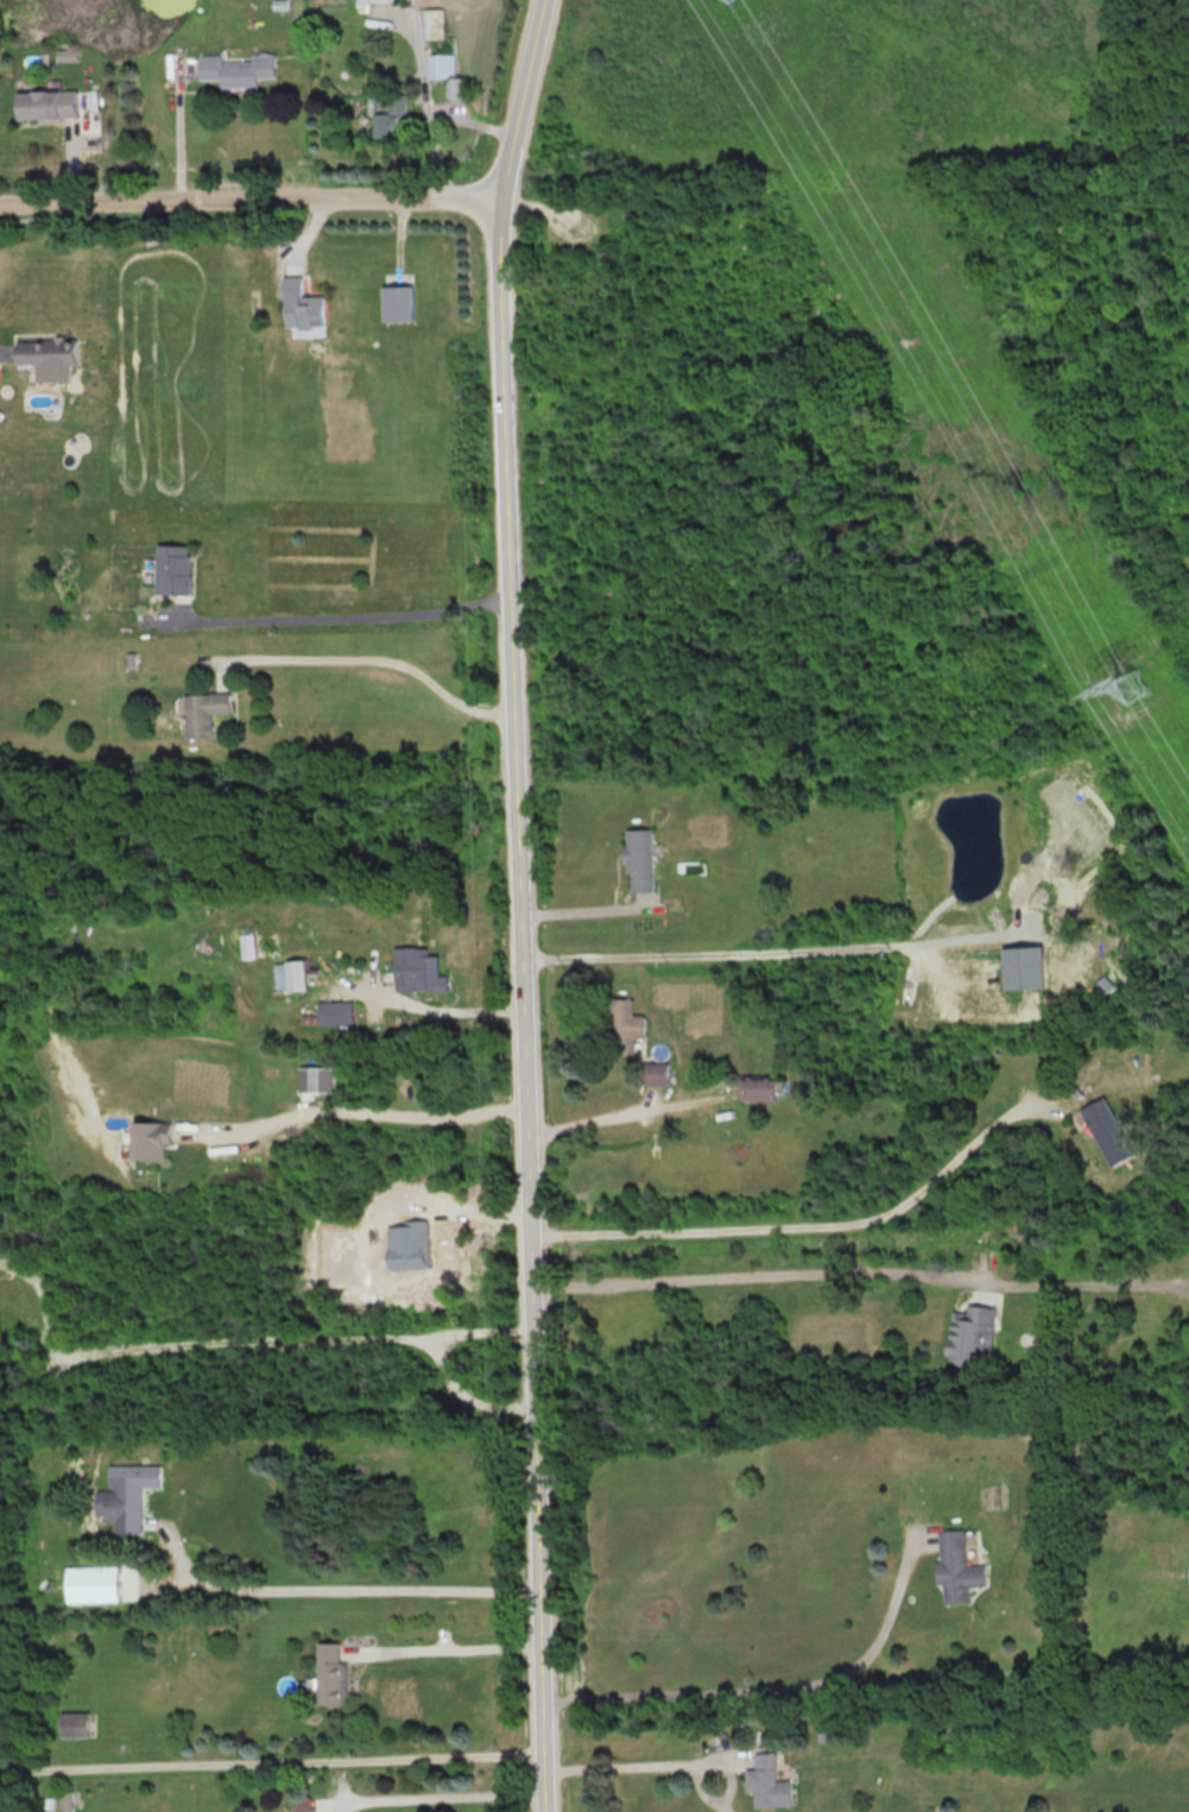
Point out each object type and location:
building: (374, 1)
building: (434, 23)
building: (236, 70)
building: (447, 75)
road: (520, 97)
building: (48, 105)
building: (392, 115)
road: (251, 198)
building: (398, 304)
building: (303, 305)
road: (2, 352)
building: (46, 353)
park: (873, 441)
building: (173, 570)
road: (341, 611)
road: (379, 651)
power tower: (1136, 690)
building: (204, 713)
building: (640, 860)
road: (720, 959)
building: (422, 973)
road: (516, 1004)
road: (435, 1010)
building: (336, 1014)
building: (624, 1027)
building: (656, 1073)
building: (760, 1088)
road: (356, 1122)
road: (592, 1129)
building: (1108, 1131)
building: (151, 1138)
road: (799, 1218)
road: (738, 1288)
building: (970, 1336)
building: (126, 1496)
building: (956, 1567)
road: (358, 1590)
road: (442, 1649)
building: (331, 1675)
road: (767, 1692)
building: (74, 1724)
road: (268, 1762)
road: (615, 1767)
building: (769, 1783)
road: (435, 1797)
building: (65, 1801)
building: (305, 1810)

